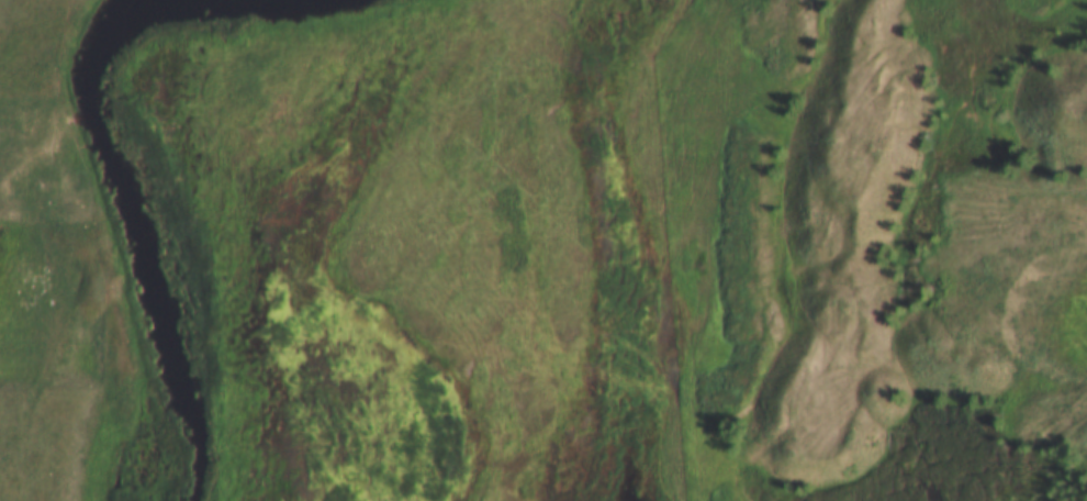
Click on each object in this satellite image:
quarry: (875, 247)

